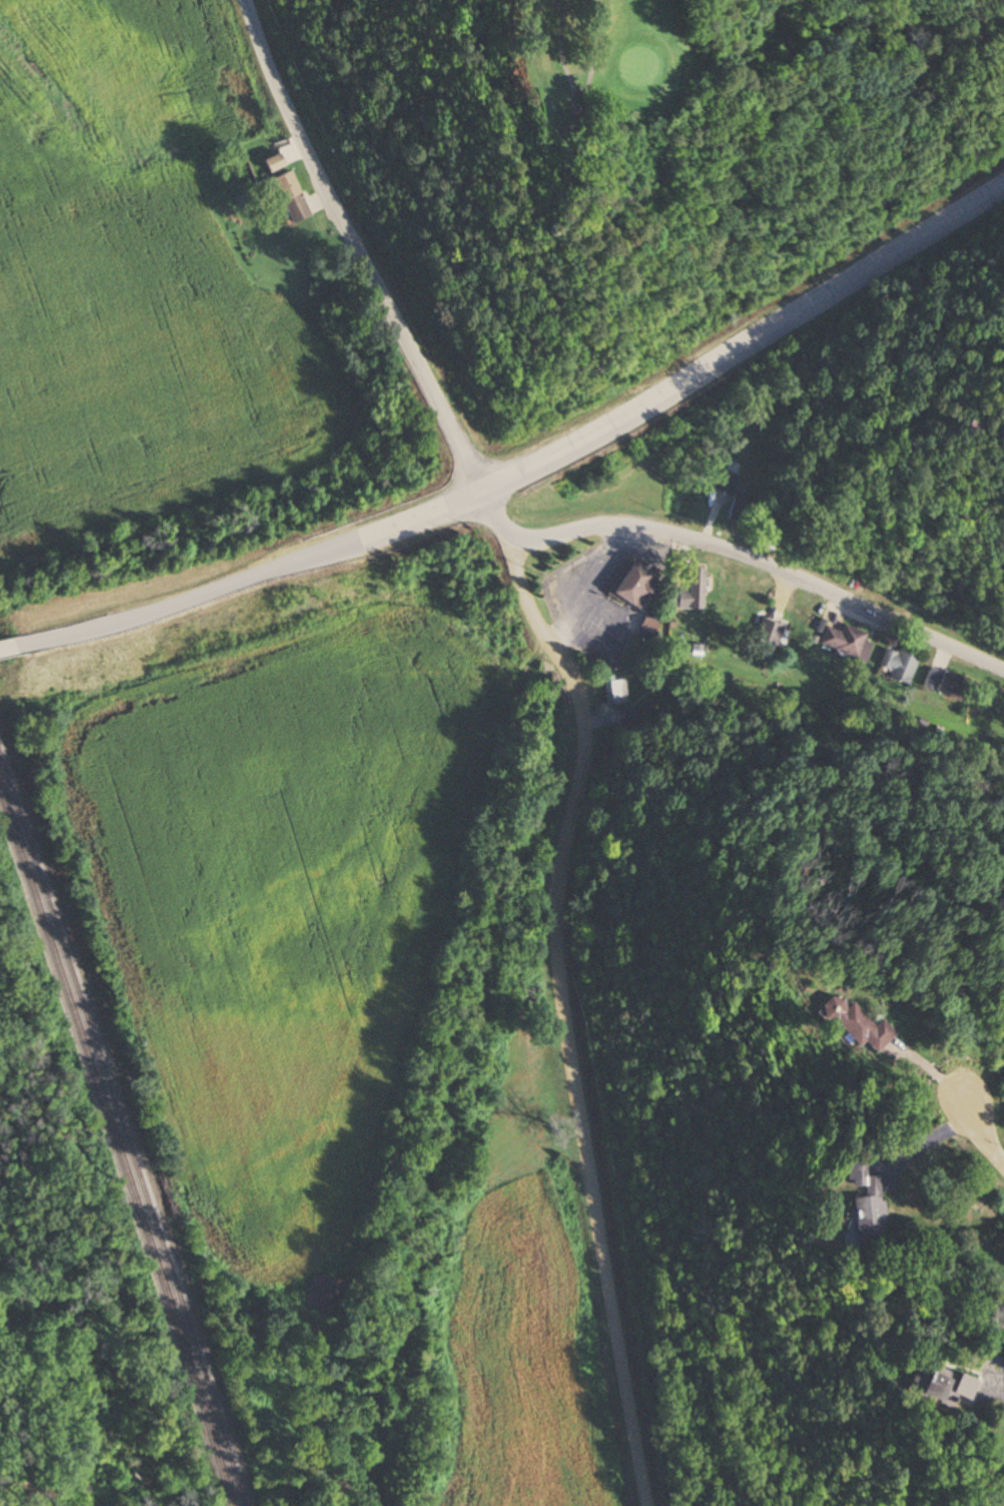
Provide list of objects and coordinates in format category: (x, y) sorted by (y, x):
road: (533, 117)
park: (626, 171)
road: (357, 250)
crop: (168, 328)
road: (534, 465)
building: (719, 482)
building: (736, 509)
road: (491, 520)
building: (761, 521)
road: (761, 562)
building: (627, 591)
building: (686, 593)
building: (645, 626)
building: (764, 632)
building: (843, 643)
road: (9, 649)
building: (693, 651)
building: (897, 666)
building: (942, 684)
building: (612, 690)
building: (625, 720)
crop: (281, 866)
road: (566, 1019)
railway: (124, 1129)
road: (978, 1134)
railway: (118, 1146)

